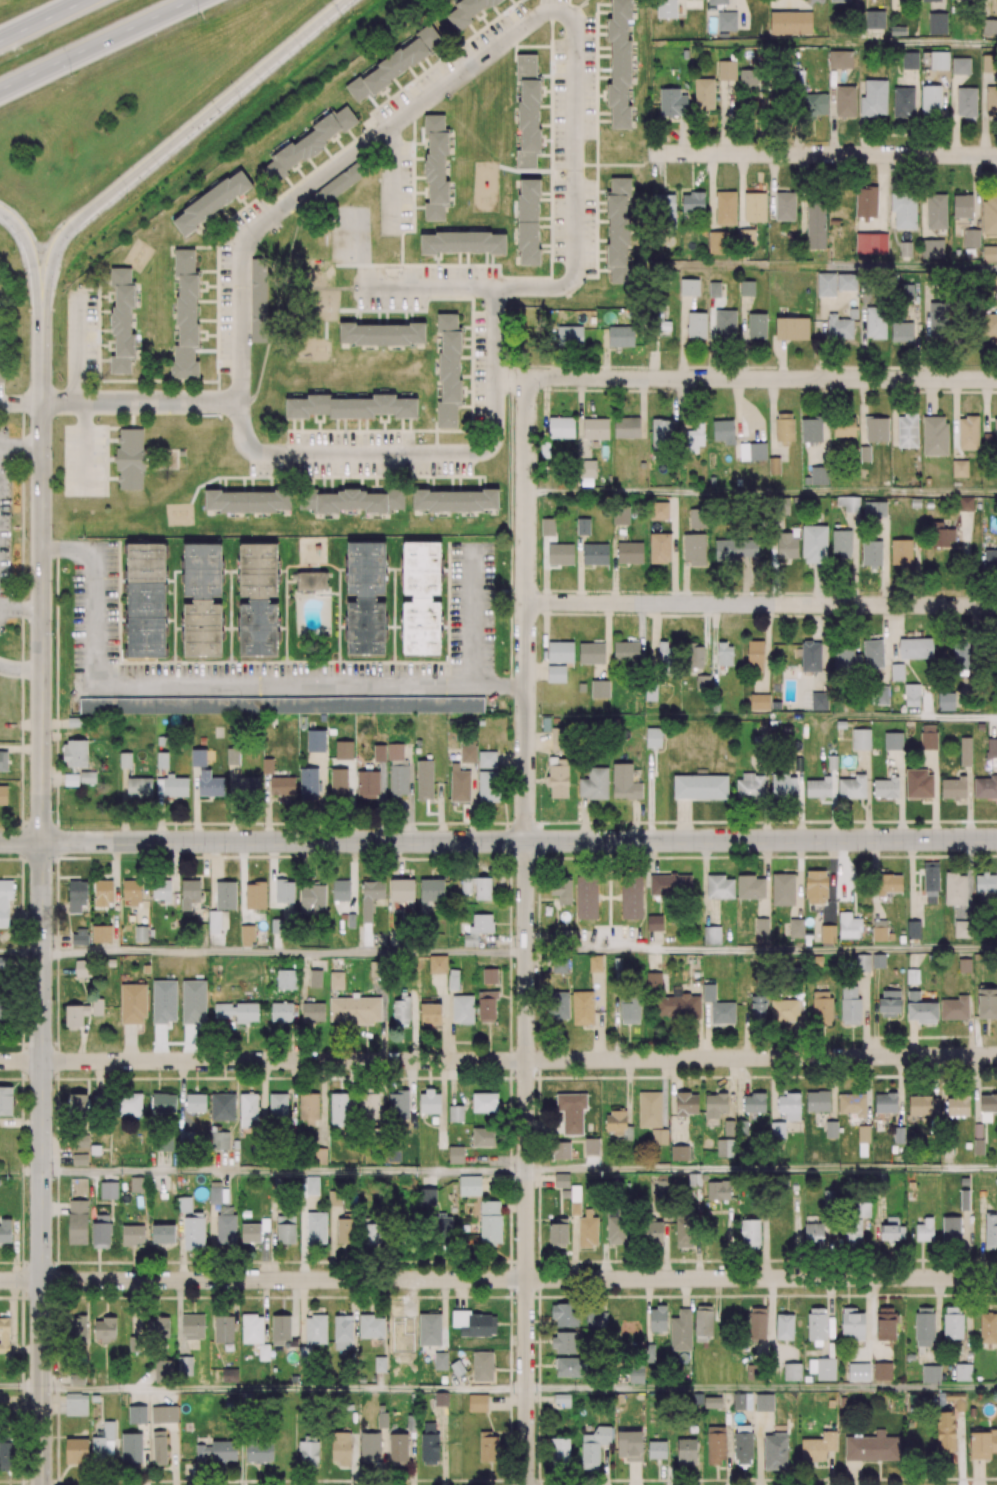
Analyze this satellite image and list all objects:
building: (840, 1)
building: (931, 1)
building: (718, 2)
building: (666, 9)
building: (465, 12)
building: (874, 19)
road: (42, 20)
building: (726, 20)
building: (790, 23)
building: (937, 23)
building: (989, 27)
road: (97, 44)
road: (847, 44)
building: (841, 59)
building: (910, 59)
building: (939, 60)
building: (988, 63)
building: (619, 64)
building: (960, 64)
building: (394, 65)
building: (727, 70)
building: (748, 80)
road: (576, 94)
building: (704, 95)
building: (874, 97)
building: (845, 100)
building: (931, 100)
building: (903, 101)
building: (672, 103)
building: (815, 105)
building: (528, 110)
road: (832, 110)
building: (312, 141)
road: (823, 154)
building: (436, 167)
road: (771, 185)
road: (741, 190)
road: (975, 190)
road: (712, 192)
road: (881, 192)
building: (211, 202)
building: (785, 205)
building: (754, 206)
building: (664, 207)
building: (725, 207)
building: (936, 210)
building: (528, 222)
building: (747, 236)
building: (971, 237)
building: (462, 243)
building: (905, 248)
building: (957, 251)
building: (990, 253)
road: (842, 266)
building: (775, 280)
building: (689, 286)
building: (747, 287)
building: (714, 289)
building: (259, 300)
building: (185, 315)
building: (122, 321)
building: (757, 324)
road: (682, 337)
road: (743, 337)
road: (822, 337)
road: (711, 338)
road: (781, 359)
road: (653, 364)
building: (1, 368)
road: (746, 379)
road: (931, 396)
road: (142, 402)
road: (985, 405)
road: (642, 406)
road: (742, 409)
road: (893, 410)
road: (862, 411)
road: (772, 416)
road: (955, 418)
building: (595, 427)
building: (907, 429)
building: (968, 431)
building: (935, 435)
road: (21, 445)
road: (84, 446)
road: (254, 451)
building: (865, 452)
building: (774, 464)
building: (606, 479)
road: (762, 494)
building: (916, 501)
building: (659, 510)
building: (583, 525)
building: (547, 526)
building: (660, 547)
road: (673, 548)
building: (629, 551)
building: (560, 553)
building: (595, 553)
road: (614, 562)
road: (544, 568)
road: (579, 568)
road: (746, 580)
road: (685, 582)
road: (761, 604)
road: (21, 608)
road: (526, 608)
road: (476, 614)
road: (607, 641)
road: (654, 641)
building: (560, 651)
building: (591, 652)
road: (20, 668)
road: (535, 671)
building: (556, 673)
road: (225, 685)
building: (581, 686)
building: (600, 688)
building: (758, 700)
building: (322, 717)
road: (873, 718)
building: (316, 740)
building: (379, 751)
building: (395, 751)
building: (198, 757)
road: (511, 757)
building: (487, 758)
building: (125, 759)
building: (267, 765)
building: (398, 779)
building: (700, 786)
road: (649, 798)
road: (582, 819)
road: (634, 820)
road: (682, 820)
road: (519, 841)
road: (21, 842)
road: (42, 854)
road: (766, 878)
road: (798, 878)
road: (911, 879)
road: (704, 882)
road: (761, 951)
road: (21, 953)
road: (284, 953)
road: (874, 1011)
road: (864, 1013)
road: (442, 1016)
road: (449, 1024)
road: (707, 1029)
road: (911, 1038)
road: (130, 1042)
road: (80, 1043)
road: (519, 1060)
road: (21, 1061)
road: (452, 1081)
road: (410, 1084)
road: (740, 1087)
road: (732, 1088)
road: (627, 1091)
road: (663, 1092)
road: (182, 1094)
road: (441, 1102)
road: (21, 1120)
road: (56, 1158)
road: (526, 1163)
road: (761, 1169)
road: (21, 1170)
road: (284, 1170)
road: (109, 1175)
road: (160, 1179)
road: (92, 1183)
road: (55, 1206)
road: (181, 1246)
road: (15, 1250)
road: (519, 1279)
road: (21, 1280)
road: (461, 1293)
road: (412, 1299)
road: (264, 1310)
road: (302, 1312)
road: (443, 1314)
road: (178, 1316)
road: (762, 1389)
road: (21, 1390)
road: (284, 1390)
road: (507, 1399)
road: (443, 1445)
building: (658, 1450)
road: (604, 1465)
road: (699, 1468)
road: (634, 1473)
road: (670, 1476)

